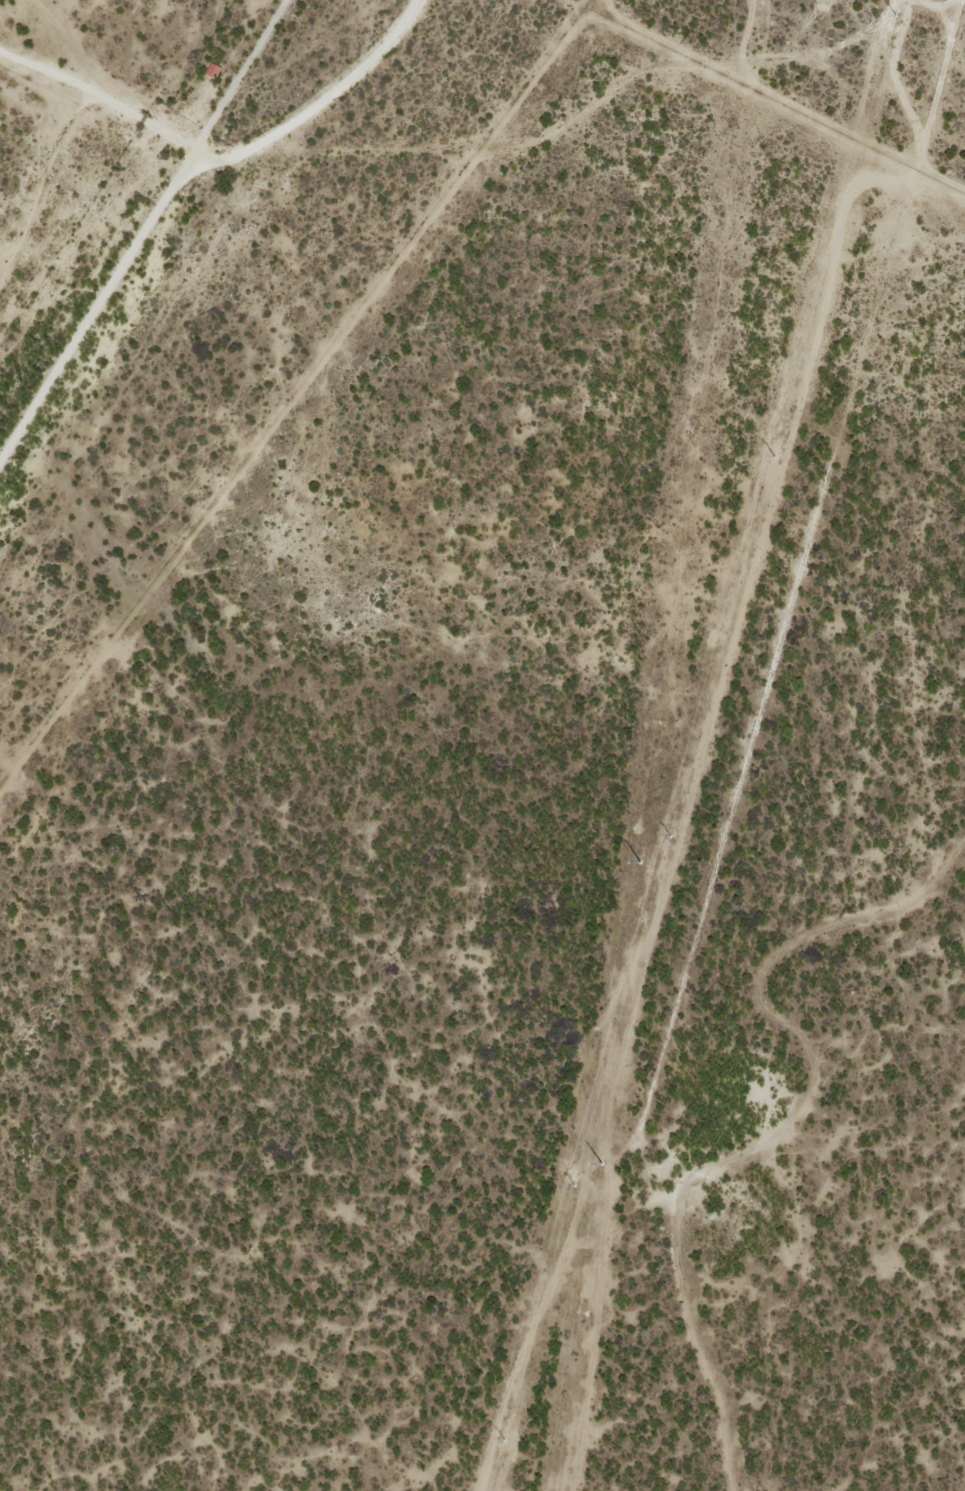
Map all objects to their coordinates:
road: (927, 4)
power tower: (890, 26)
road: (589, 104)
road: (929, 108)
power tower: (731, 128)
road: (224, 157)
road: (143, 233)
railway: (161, 258)
power tower: (695, 425)
power tower: (780, 430)
power tower: (660, 720)
power tower: (669, 836)
power tower: (618, 1017)
power tower: (582, 1313)
power tower: (511, 1414)

